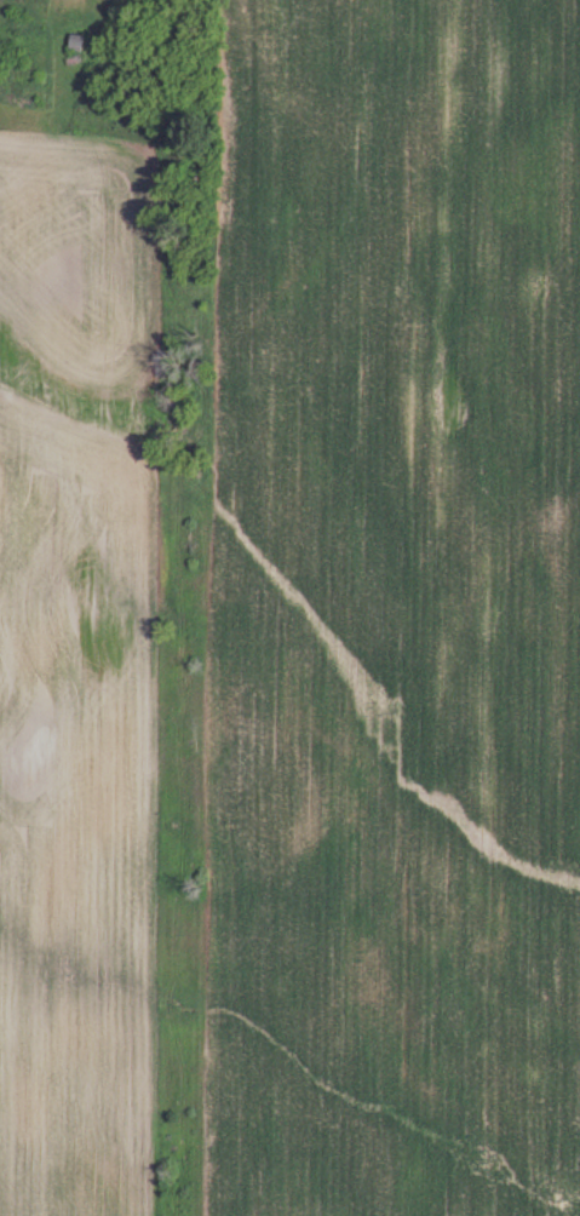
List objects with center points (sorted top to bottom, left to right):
building: (76, 42)

